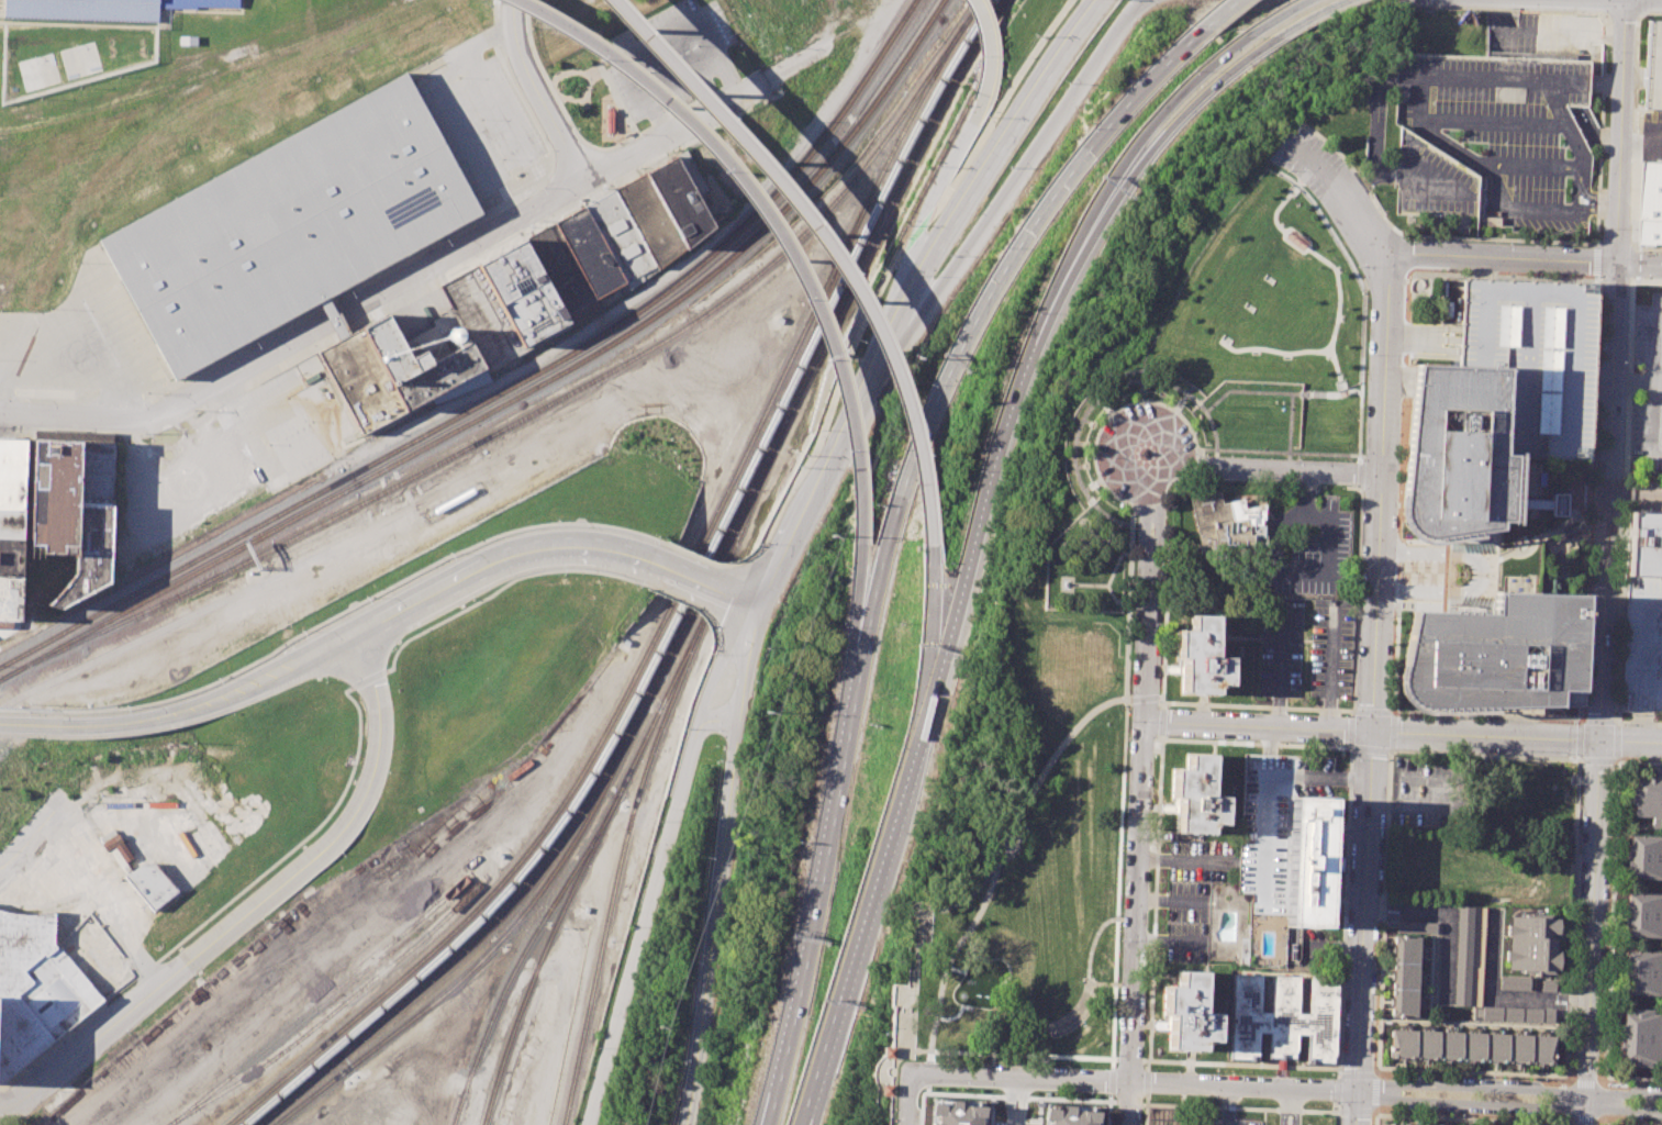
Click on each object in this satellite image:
road: (1141, 0)
road: (1618, 1)
building: (102, 9)
railway: (971, 13)
road: (1223, 14)
road: (1622, 15)
road: (1319, 16)
road: (1274, 19)
railway: (457, 24)
road: (985, 45)
road: (818, 51)
parking lot: (673, 60)
building: (1650, 66)
parking garage: (1650, 66)
road: (1412, 74)
road: (484, 82)
road: (545, 93)
parking lot: (480, 115)
road: (1600, 121)
road: (456, 122)
building: (610, 122)
road: (1493, 122)
building: (1501, 124)
parking garage: (1501, 124)
road: (1619, 132)
road: (1636, 134)
road: (1640, 141)
road: (993, 148)
road: (1126, 151)
road: (1153, 152)
road: (1518, 166)
road: (1420, 175)
road: (932, 192)
building: (682, 196)
road: (1002, 196)
road: (1594, 196)
road: (1346, 197)
building: (1650, 203)
road: (1539, 209)
road: (1595, 209)
building: (650, 219)
road: (767, 219)
building: (292, 224)
road: (1291, 236)
building: (622, 237)
road: (1468, 237)
road: (822, 245)
building: (589, 250)
road: (1282, 257)
road: (1503, 257)
road: (1596, 259)
road: (1631, 264)
road: (1638, 264)
building: (562, 272)
railway: (849, 275)
road: (879, 287)
road: (393, 291)
building: (523, 292)
road: (1257, 292)
railway: (828, 294)
road: (1337, 294)
road: (1362, 299)
road: (981, 305)
building: (333, 316)
road: (1336, 316)
building: (482, 319)
road: (1236, 323)
railway: (828, 330)
parking lot: (1649, 332)
water tower: (455, 335)
parking lot: (82, 341)
road: (1329, 342)
road: (878, 343)
road: (1657, 349)
road: (1295, 350)
building: (1527, 355)
parking lot: (1527, 355)
power tower: (910, 357)
building: (416, 360)
railway: (802, 367)
road: (1629, 379)
building: (360, 380)
road: (1633, 381)
road: (1127, 382)
road: (1659, 383)
railway: (504, 390)
road: (1248, 390)
road: (1338, 393)
railway: (516, 396)
road: (1183, 396)
road: (1402, 399)
road: (1097, 401)
road: (1175, 408)
road: (1106, 411)
road: (1108, 413)
railway: (528, 414)
road: (1653, 421)
railway: (398, 423)
road: (1289, 431)
parking lot: (1648, 435)
road: (1197, 448)
road: (1323, 453)
road: (1357, 455)
building: (1459, 455)
parking lot: (222, 457)
road: (1280, 469)
building: (11, 472)
road: (1360, 472)
building: (97, 474)
road: (1095, 480)
road: (1642, 481)
railway: (699, 487)
road: (1084, 488)
road: (1141, 489)
road: (984, 493)
road: (1635, 495)
building: (54, 497)
road: (806, 497)
road: (1380, 497)
road: (1588, 499)
railway: (750, 505)
road: (1109, 515)
road: (1586, 516)
road: (1576, 520)
building: (10, 523)
building: (1230, 528)
road: (1093, 530)
road: (1582, 530)
road: (1562, 531)
road: (1089, 532)
road: (1555, 532)
railway: (724, 536)
road: (1075, 542)
road: (1570, 542)
building: (1644, 544)
road: (1560, 545)
parking lot: (1310, 546)
road: (1547, 546)
road: (1098, 548)
road: (1563, 549)
road: (1517, 552)
power tower: (802, 553)
road: (701, 555)
building: (10, 556)
building: (87, 556)
road: (1552, 559)
railway: (258, 562)
road: (740, 562)
road: (494, 564)
flagpole: (1404, 566)
road: (1282, 569)
road: (1419, 571)
road: (1434, 572)
road: (1109, 573)
fountain: (1462, 573)
road: (1491, 573)
flagpole: (1404, 576)
railway: (140, 578)
road: (690, 579)
building: (1544, 579)
road: (1085, 583)
road: (1128, 587)
road: (861, 590)
road: (1622, 595)
building: (9, 599)
road: (744, 601)
road: (1147, 603)
road: (361, 609)
park: (1102, 616)
railway: (659, 623)
road: (930, 623)
road: (1163, 624)
railway: (712, 639)
building: (1643, 644)
parking garage: (1643, 644)
parking lot: (1281, 646)
power tower: (766, 648)
parking lot: (1331, 649)
building: (1496, 655)
building: (1201, 657)
railway: (687, 659)
road: (1281, 665)
road: (1331, 666)
road: (717, 668)
road: (1120, 669)
road: (367, 679)
road: (1352, 693)
road: (1600, 693)
railway: (663, 697)
road: (1142, 697)
road: (209, 701)
road: (26, 710)
road: (1486, 714)
road: (1640, 721)
road: (26, 724)
road: (1258, 724)
road: (1518, 736)
road: (1142, 737)
road: (1390, 750)
road: (1484, 755)
road: (1617, 760)
road: (1640, 761)
road: (1408, 779)
road: (1267, 789)
parking lot: (1420, 793)
building: (1196, 797)
building: (1646, 797)
road: (1407, 807)
road: (1347, 817)
building: (1272, 821)
parking garage: (1272, 821)
road: (1639, 825)
building: (105, 835)
road: (31, 837)
building: (111, 842)
road: (298, 844)
building: (122, 851)
road: (1002, 854)
building: (1644, 856)
building: (121, 860)
road: (1185, 860)
building: (1309, 862)
road: (1337, 862)
road: (819, 864)
road: (723, 866)
road: (1118, 882)
building: (150, 883)
road: (27, 895)
road: (118, 895)
parking lot: (1194, 895)
road: (1170, 900)
road: (1388, 905)
road: (647, 906)
road: (253, 909)
road: (1382, 912)
building: (1643, 914)
road: (1388, 916)
railway: (609, 920)
railway: (494, 923)
road: (1611, 924)
building: (1416, 926)
road: (1365, 927)
railway: (509, 928)
road: (1448, 937)
road: (1136, 939)
road: (1170, 942)
road: (913, 943)
building: (1532, 944)
railway: (448, 948)
railway: (524, 953)
railway: (543, 956)
building: (1470, 956)
road: (144, 970)
road: (1151, 972)
building: (1642, 972)
building: (1405, 976)
road: (1491, 980)
building: (1515, 982)
road: (1100, 983)
building: (1548, 984)
building: (35, 988)
road: (1565, 995)
railway: (322, 1002)
road: (1565, 1006)
road: (1073, 1009)
railway: (331, 1012)
road: (1568, 1012)
building: (1187, 1014)
building: (1515, 1014)
building: (1283, 1018)
road: (1473, 1023)
flagpole: (1081, 1026)
road: (1038, 1028)
road: (67, 1032)
power tower: (665, 1033)
building: (1640, 1037)
road: (1037, 1046)
building: (1472, 1046)
building: (886, 1051)
road: (1033, 1055)
road: (1148, 1060)
street lamp: (1175, 1071)
road: (916, 1072)
road: (1338, 1077)
road: (1570, 1077)
road: (1633, 1078)
road: (1584, 1079)
road: (1111, 1080)
road: (1140, 1082)
road: (890, 1085)
road: (1507, 1088)
building: (884, 1089)
street lamp: (962, 1091)
street lamp: (1087, 1094)
road: (999, 1095)
road: (1147, 1098)
road: (904, 1099)
road: (1010, 1100)
road: (1018, 1101)
road: (1108, 1101)
road: (1128, 1102)
street lamp: (1329, 1102)
road: (1507, 1104)
road: (1228, 1105)
road: (766, 1106)
road: (769, 1106)
road: (1238, 1107)
road: (1283, 1107)
road: (1296, 1107)
road: (991, 1110)
street lamp: (1141, 1110)
road: (1038, 1111)
building: (955, 1112)
road: (1107, 1113)
building: (1069, 1115)
road: (1490, 1115)
road: (1374, 1117)
parking lot: (1289, 1118)
road: (1336, 1118)
parking lot: (1223, 1122)
road: (1626, 1123)
road: (1012, 1124)
building: (1391, 1124)

